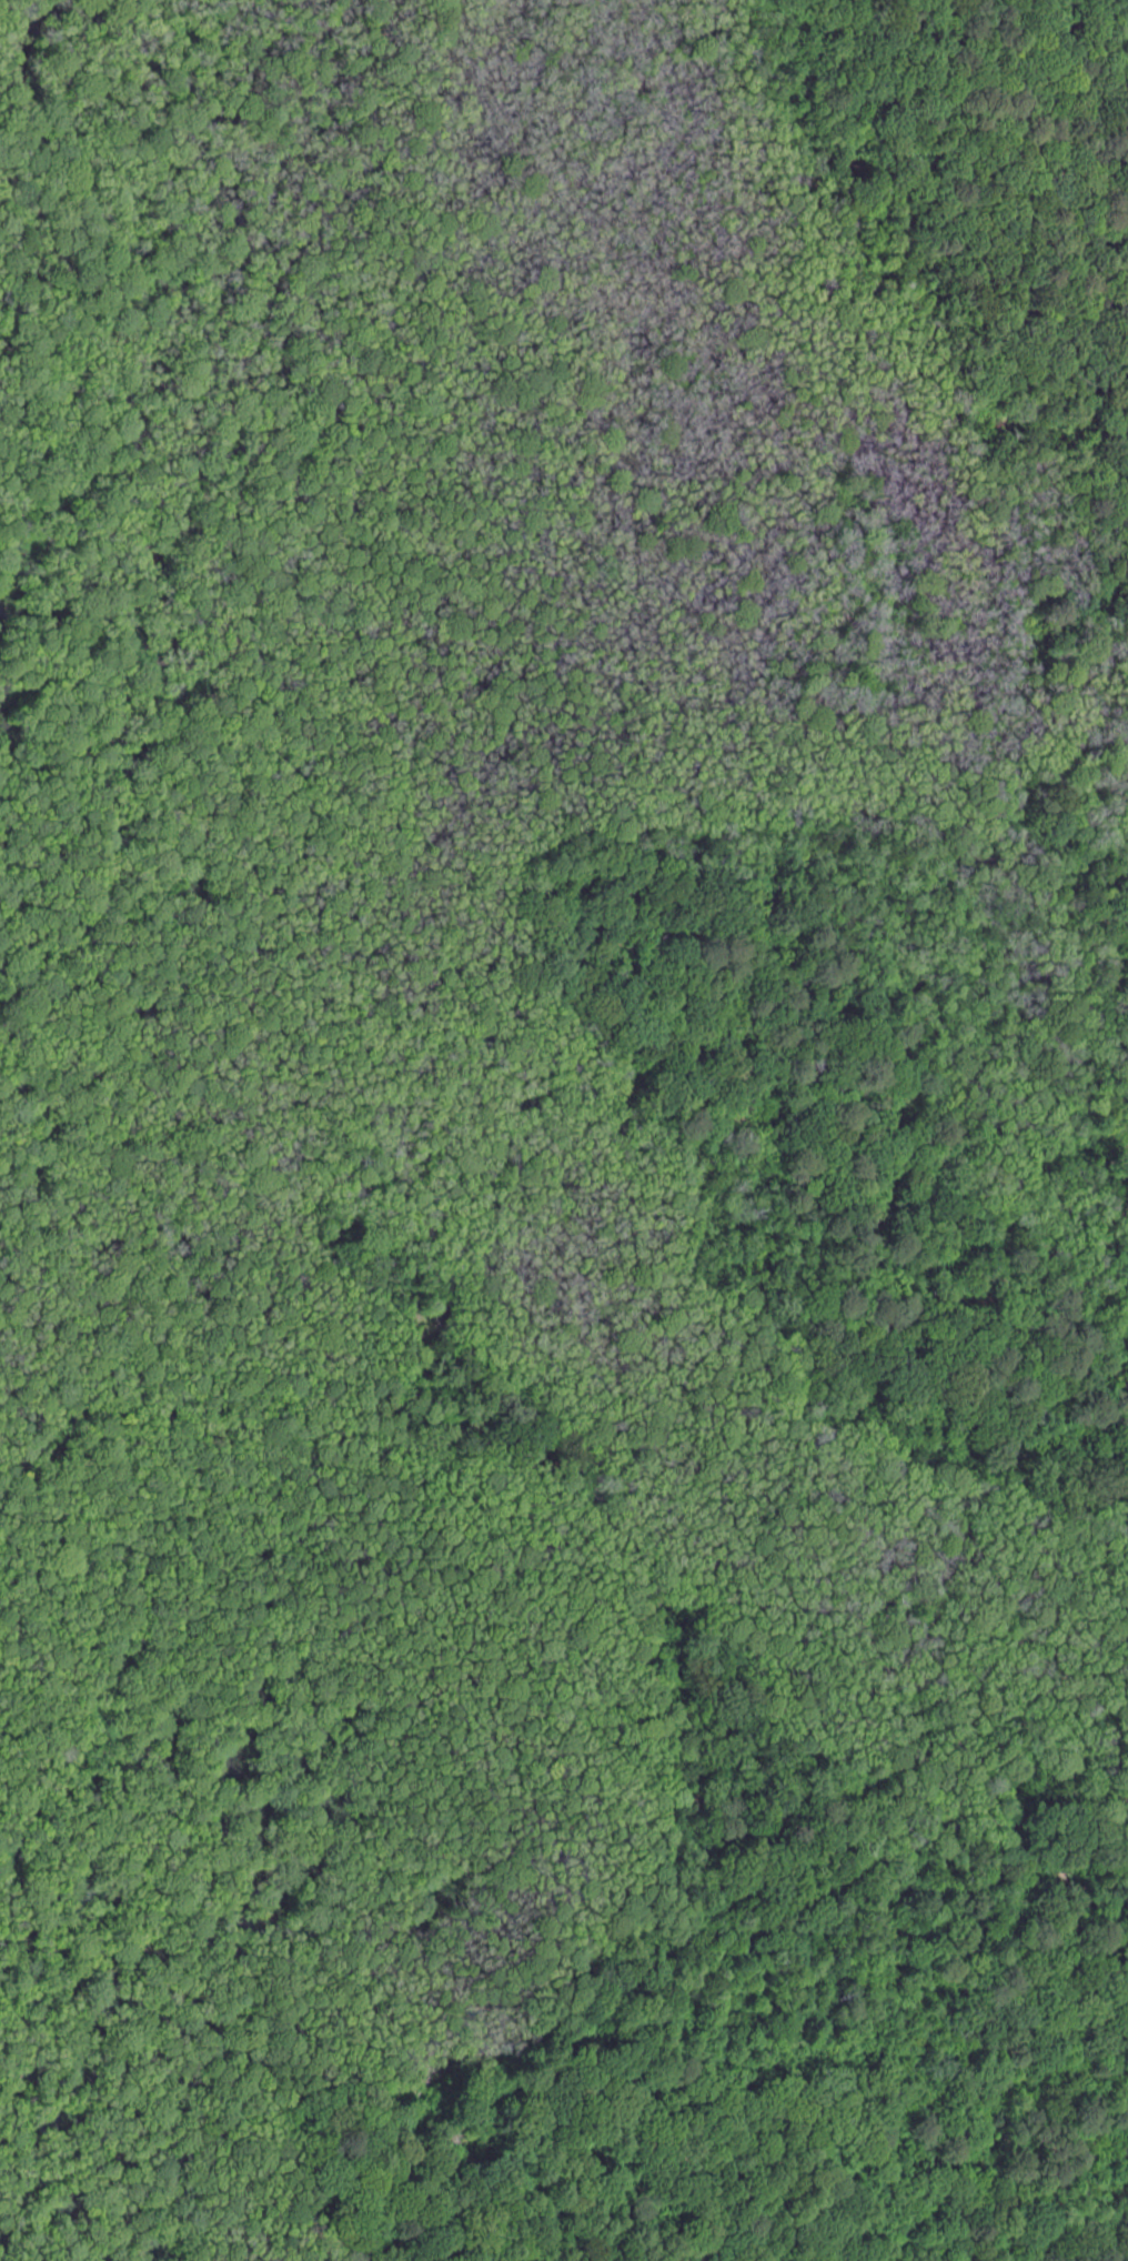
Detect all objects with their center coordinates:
park: (564, 1130)

